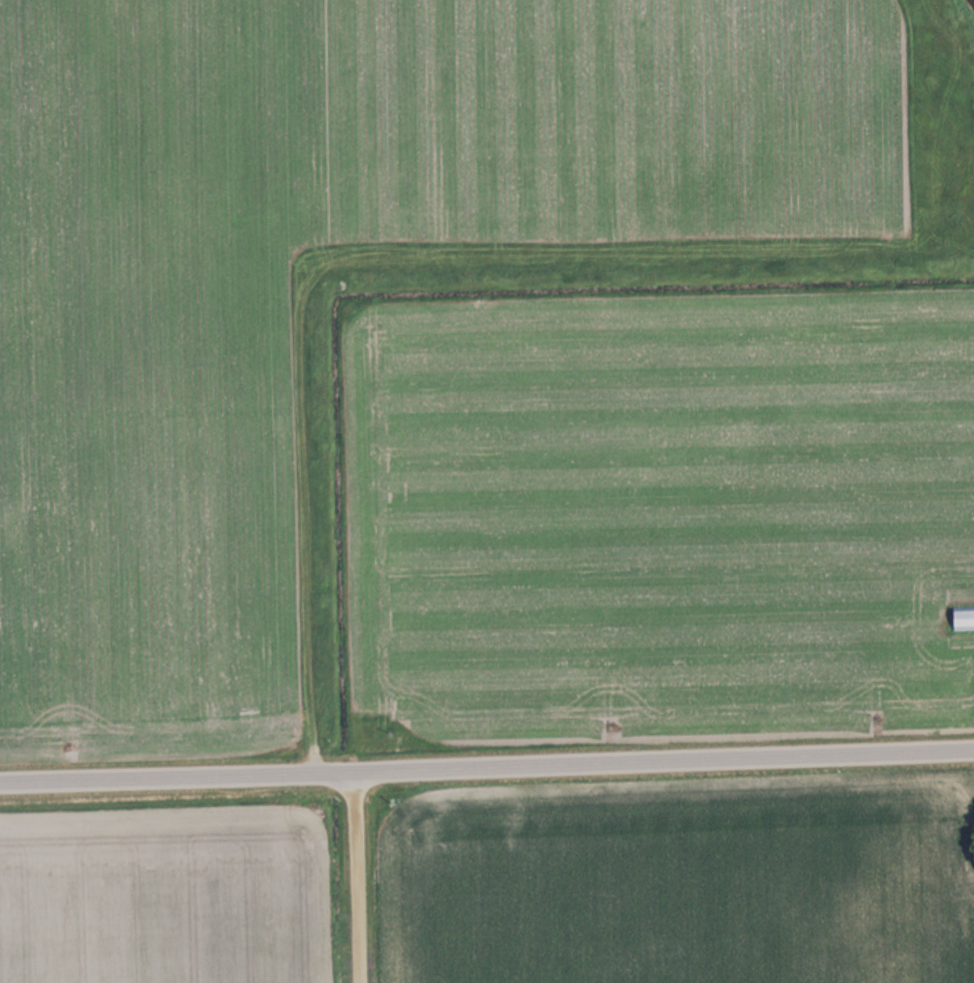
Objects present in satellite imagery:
building: (962, 618)
road: (487, 768)
road: (360, 878)

